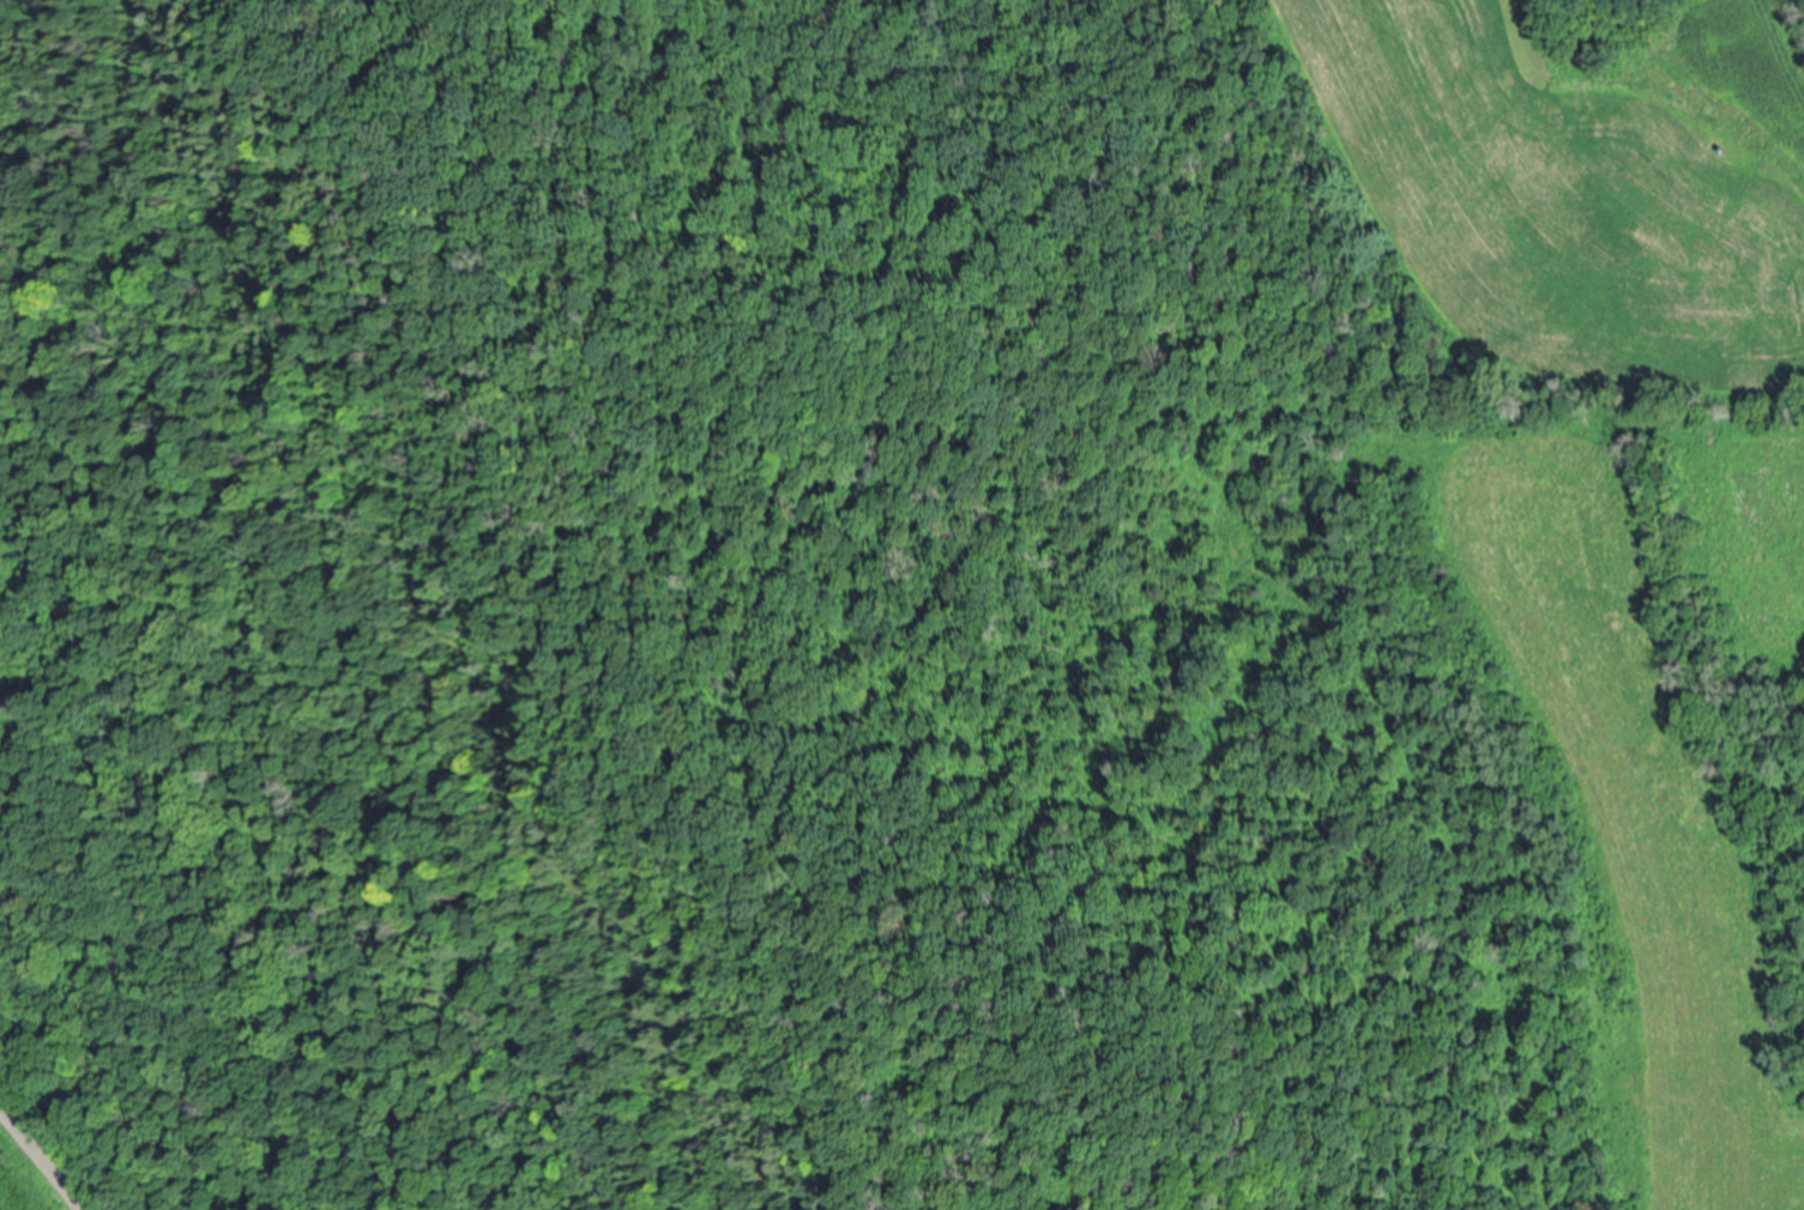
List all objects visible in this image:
road: (42, 1157)

